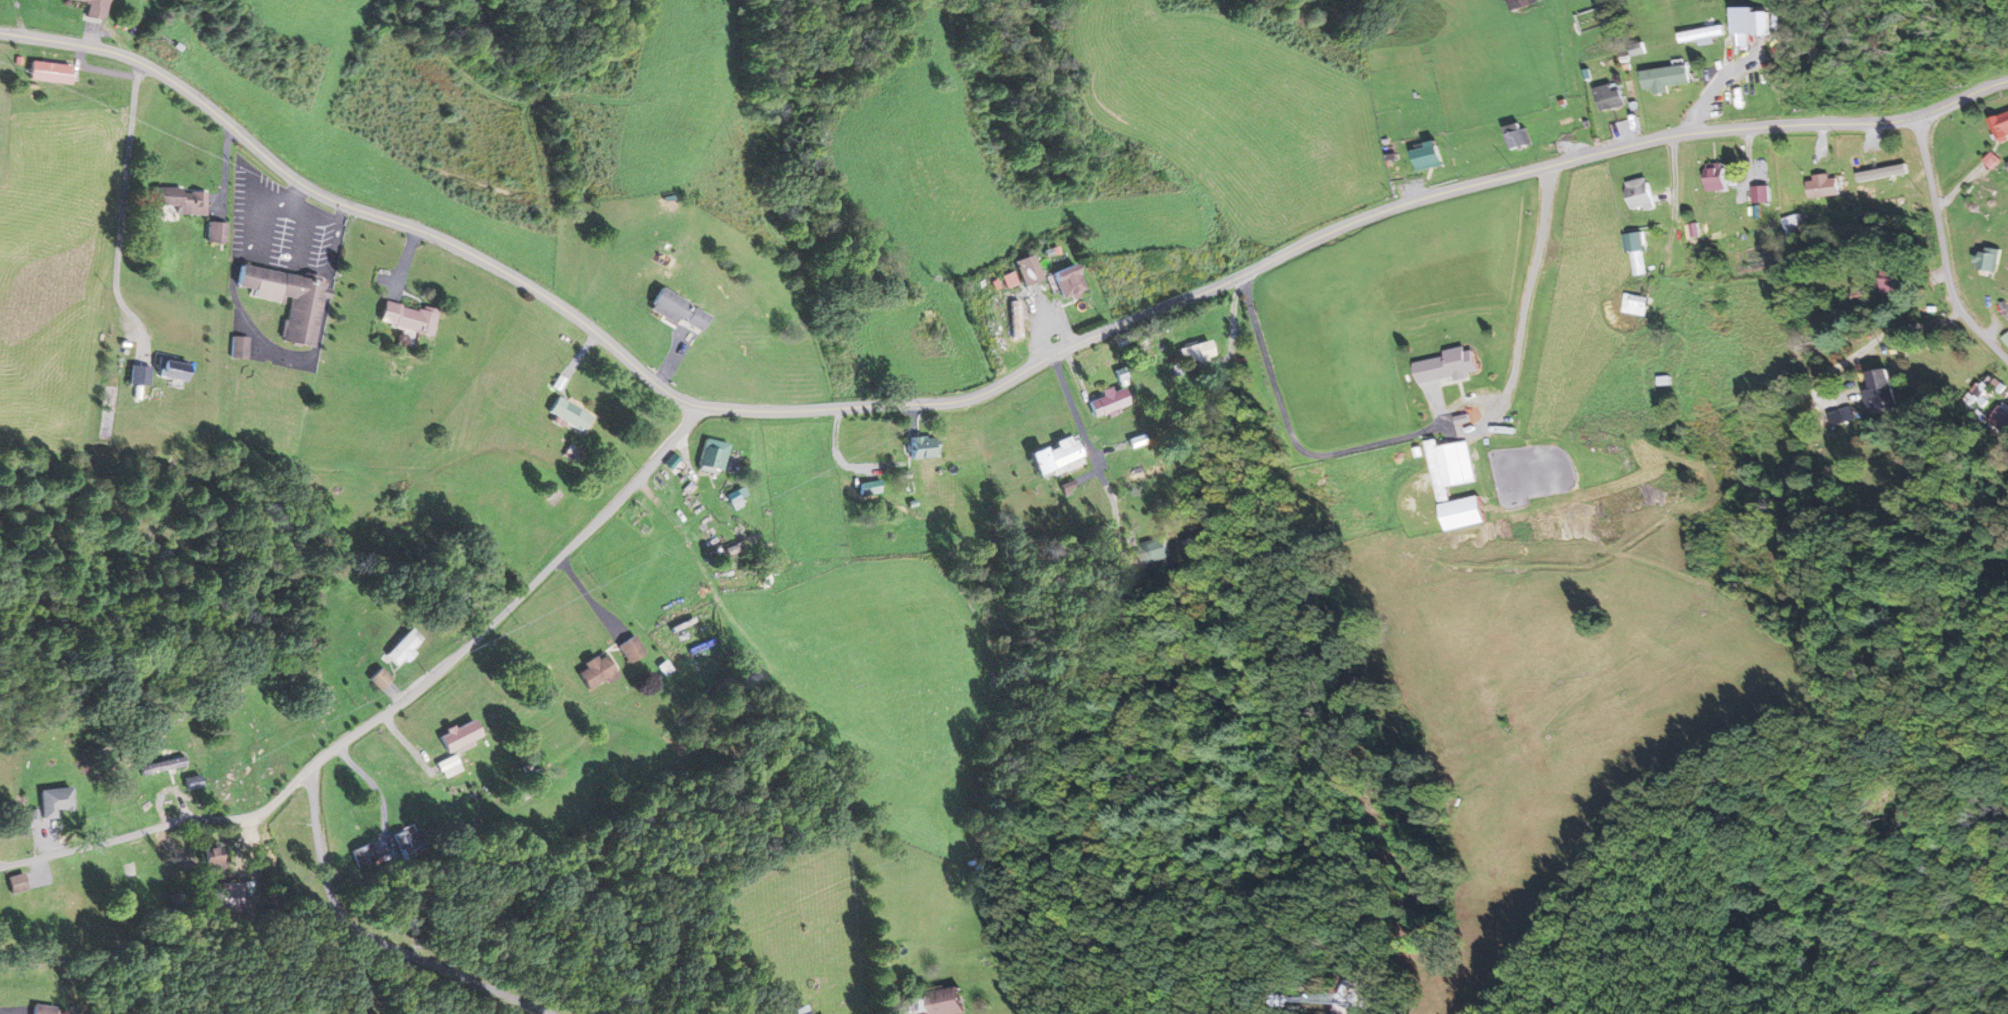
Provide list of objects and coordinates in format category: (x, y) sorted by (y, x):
building: (1522, 3)
building: (90, 9)
building: (1749, 21)
road: (75, 22)
building: (43, 73)
building: (1665, 78)
building: (1609, 98)
building: (2000, 126)
building: (1517, 136)
building: (1428, 157)
building: (2007, 164)
building: (1713, 177)
building: (1822, 186)
building: (1639, 194)
building: (181, 200)
road: (1943, 250)
building: (1635, 254)
building: (1988, 259)
building: (668, 266)
building: (1025, 270)
building: (1007, 280)
building: (1066, 282)
building: (1893, 284)
building: (289, 300)
building: (1633, 304)
building: (675, 311)
building: (403, 319)
building: (1149, 346)
building: (1195, 353)
building: (1448, 366)
building: (167, 371)
building: (136, 376)
building: (1879, 391)
building: (1985, 393)
road: (979, 395)
building: (1108, 402)
building: (568, 414)
building: (2001, 418)
road: (1086, 438)
building: (921, 447)
building: (710, 456)
building: (1054, 456)
building: (1143, 473)
building: (1454, 484)
building: (732, 501)
road: (516, 604)
building: (401, 649)
building: (630, 649)
building: (594, 672)
building: (377, 678)
building: (458, 736)
building: (447, 766)
building: (189, 784)
building: (52, 801)
road: (162, 828)
building: (407, 842)
building: (363, 855)
building: (48, 913)
road: (364, 939)
building: (946, 1001)
building: (46, 1010)
building: (797, 1010)

